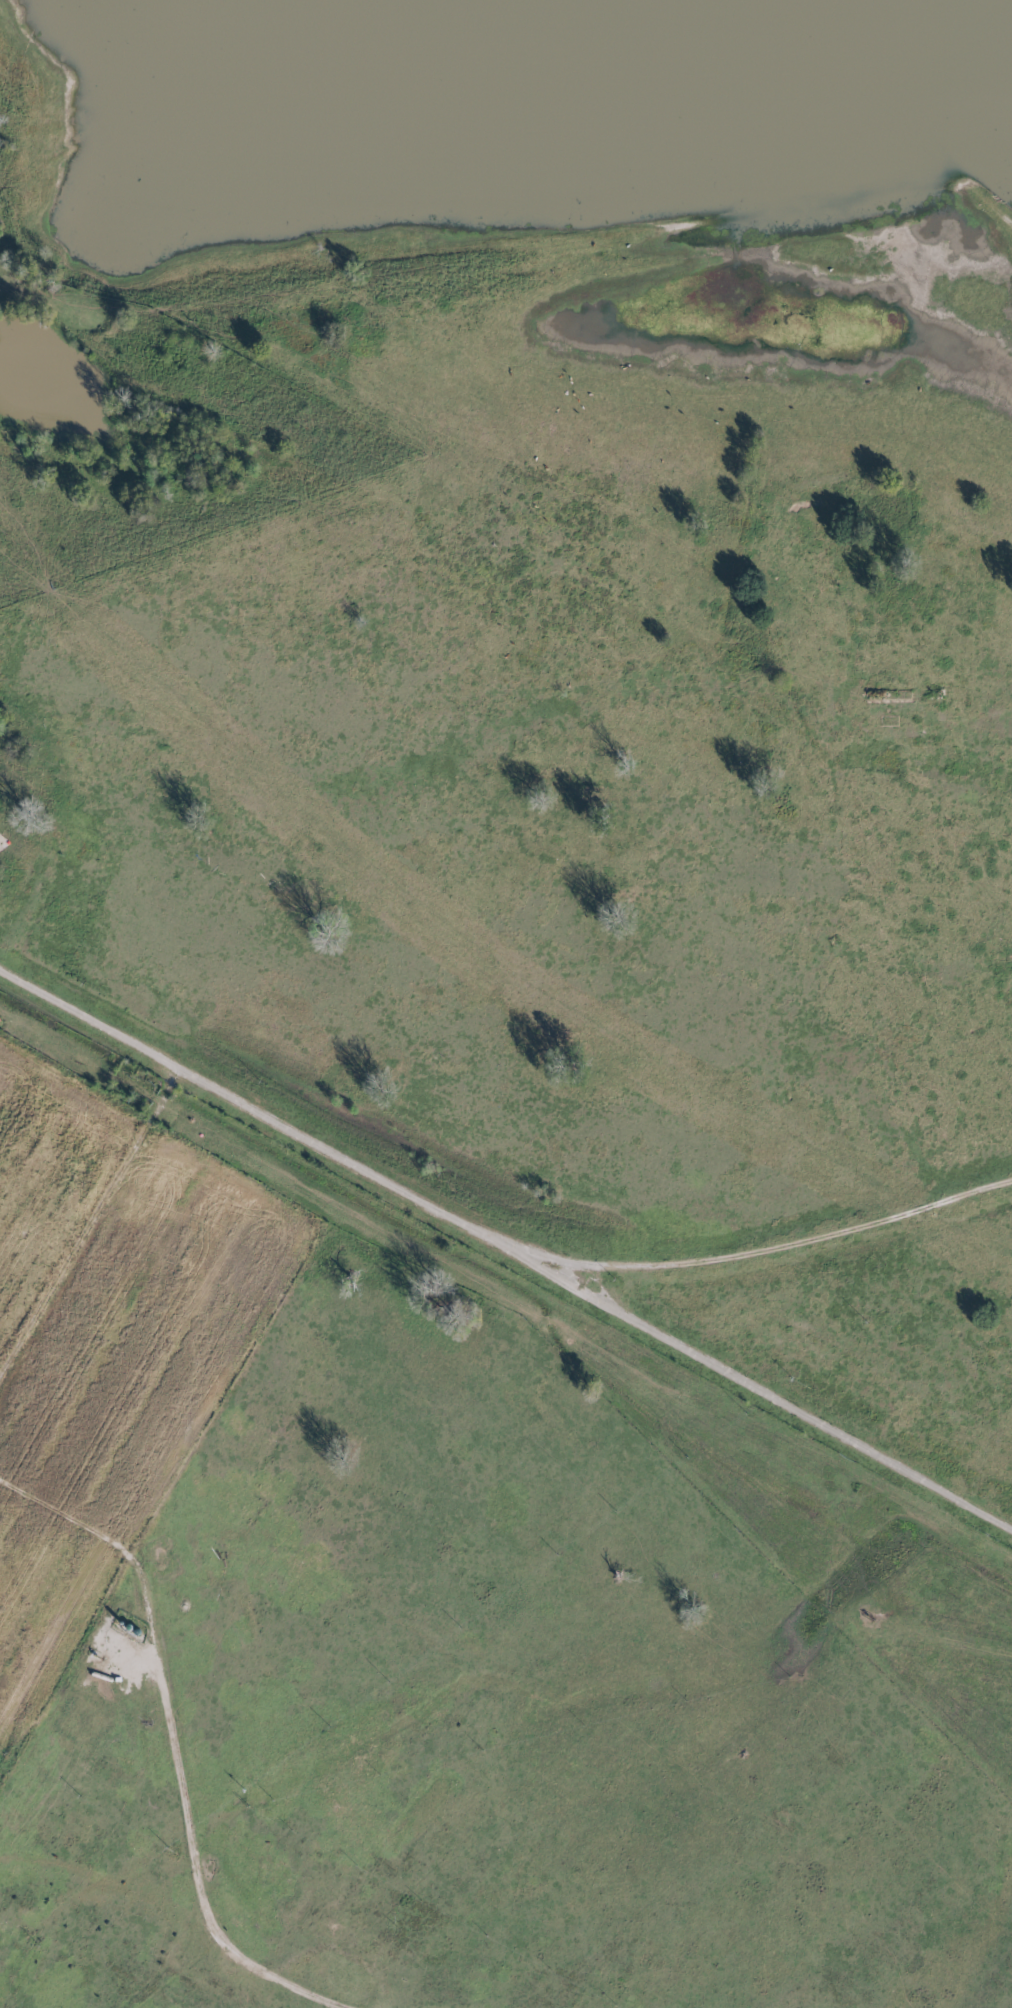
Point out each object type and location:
road: (772, 1248)
road: (507, 1254)

